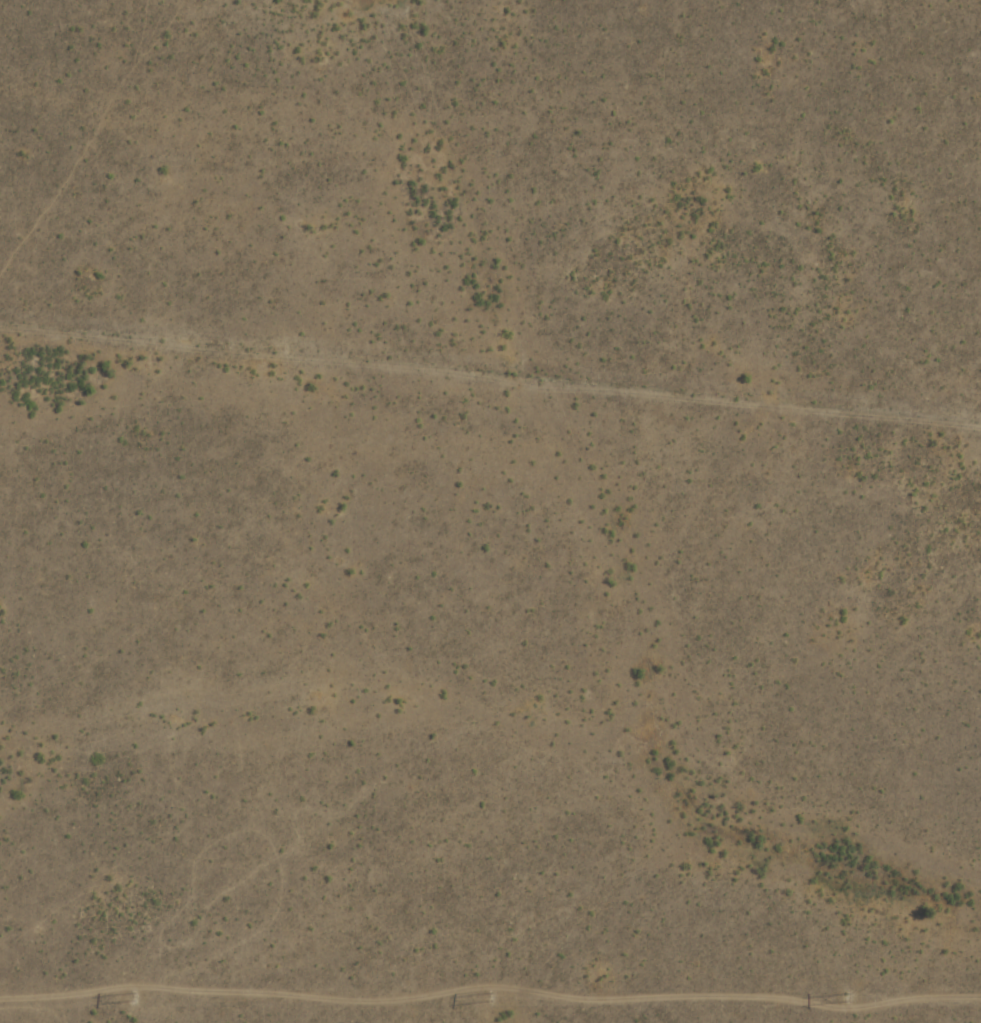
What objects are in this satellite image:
power tower: (133, 996)
power tower: (489, 996)
power tower: (848, 998)

